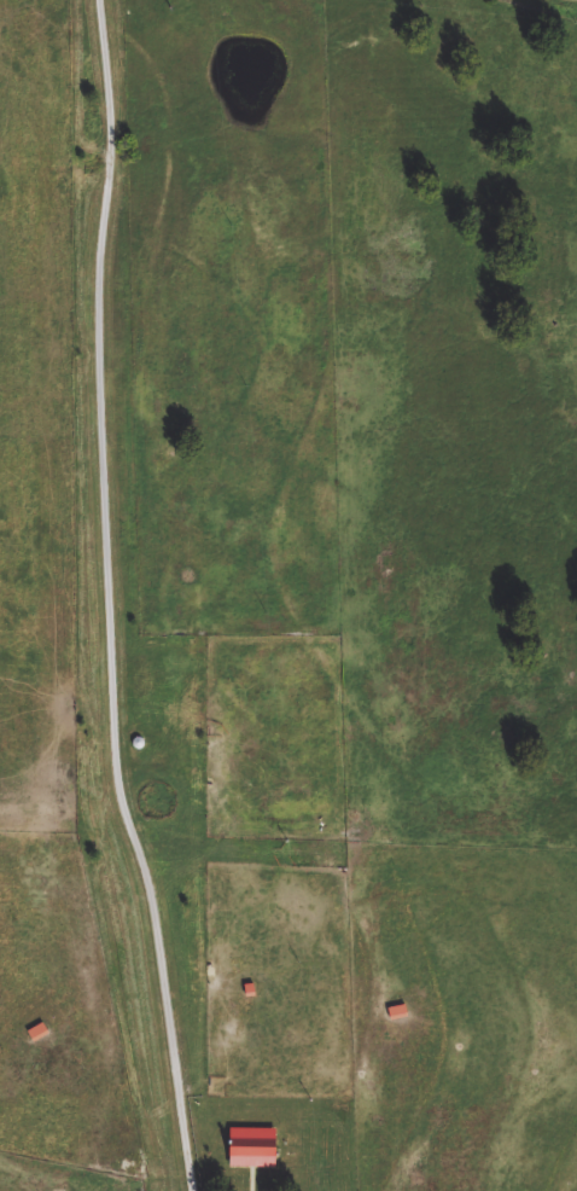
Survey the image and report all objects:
building: (210, 378)
road: (112, 598)
building: (400, 1006)
building: (40, 1033)
building: (257, 1156)
building: (64, 1189)

